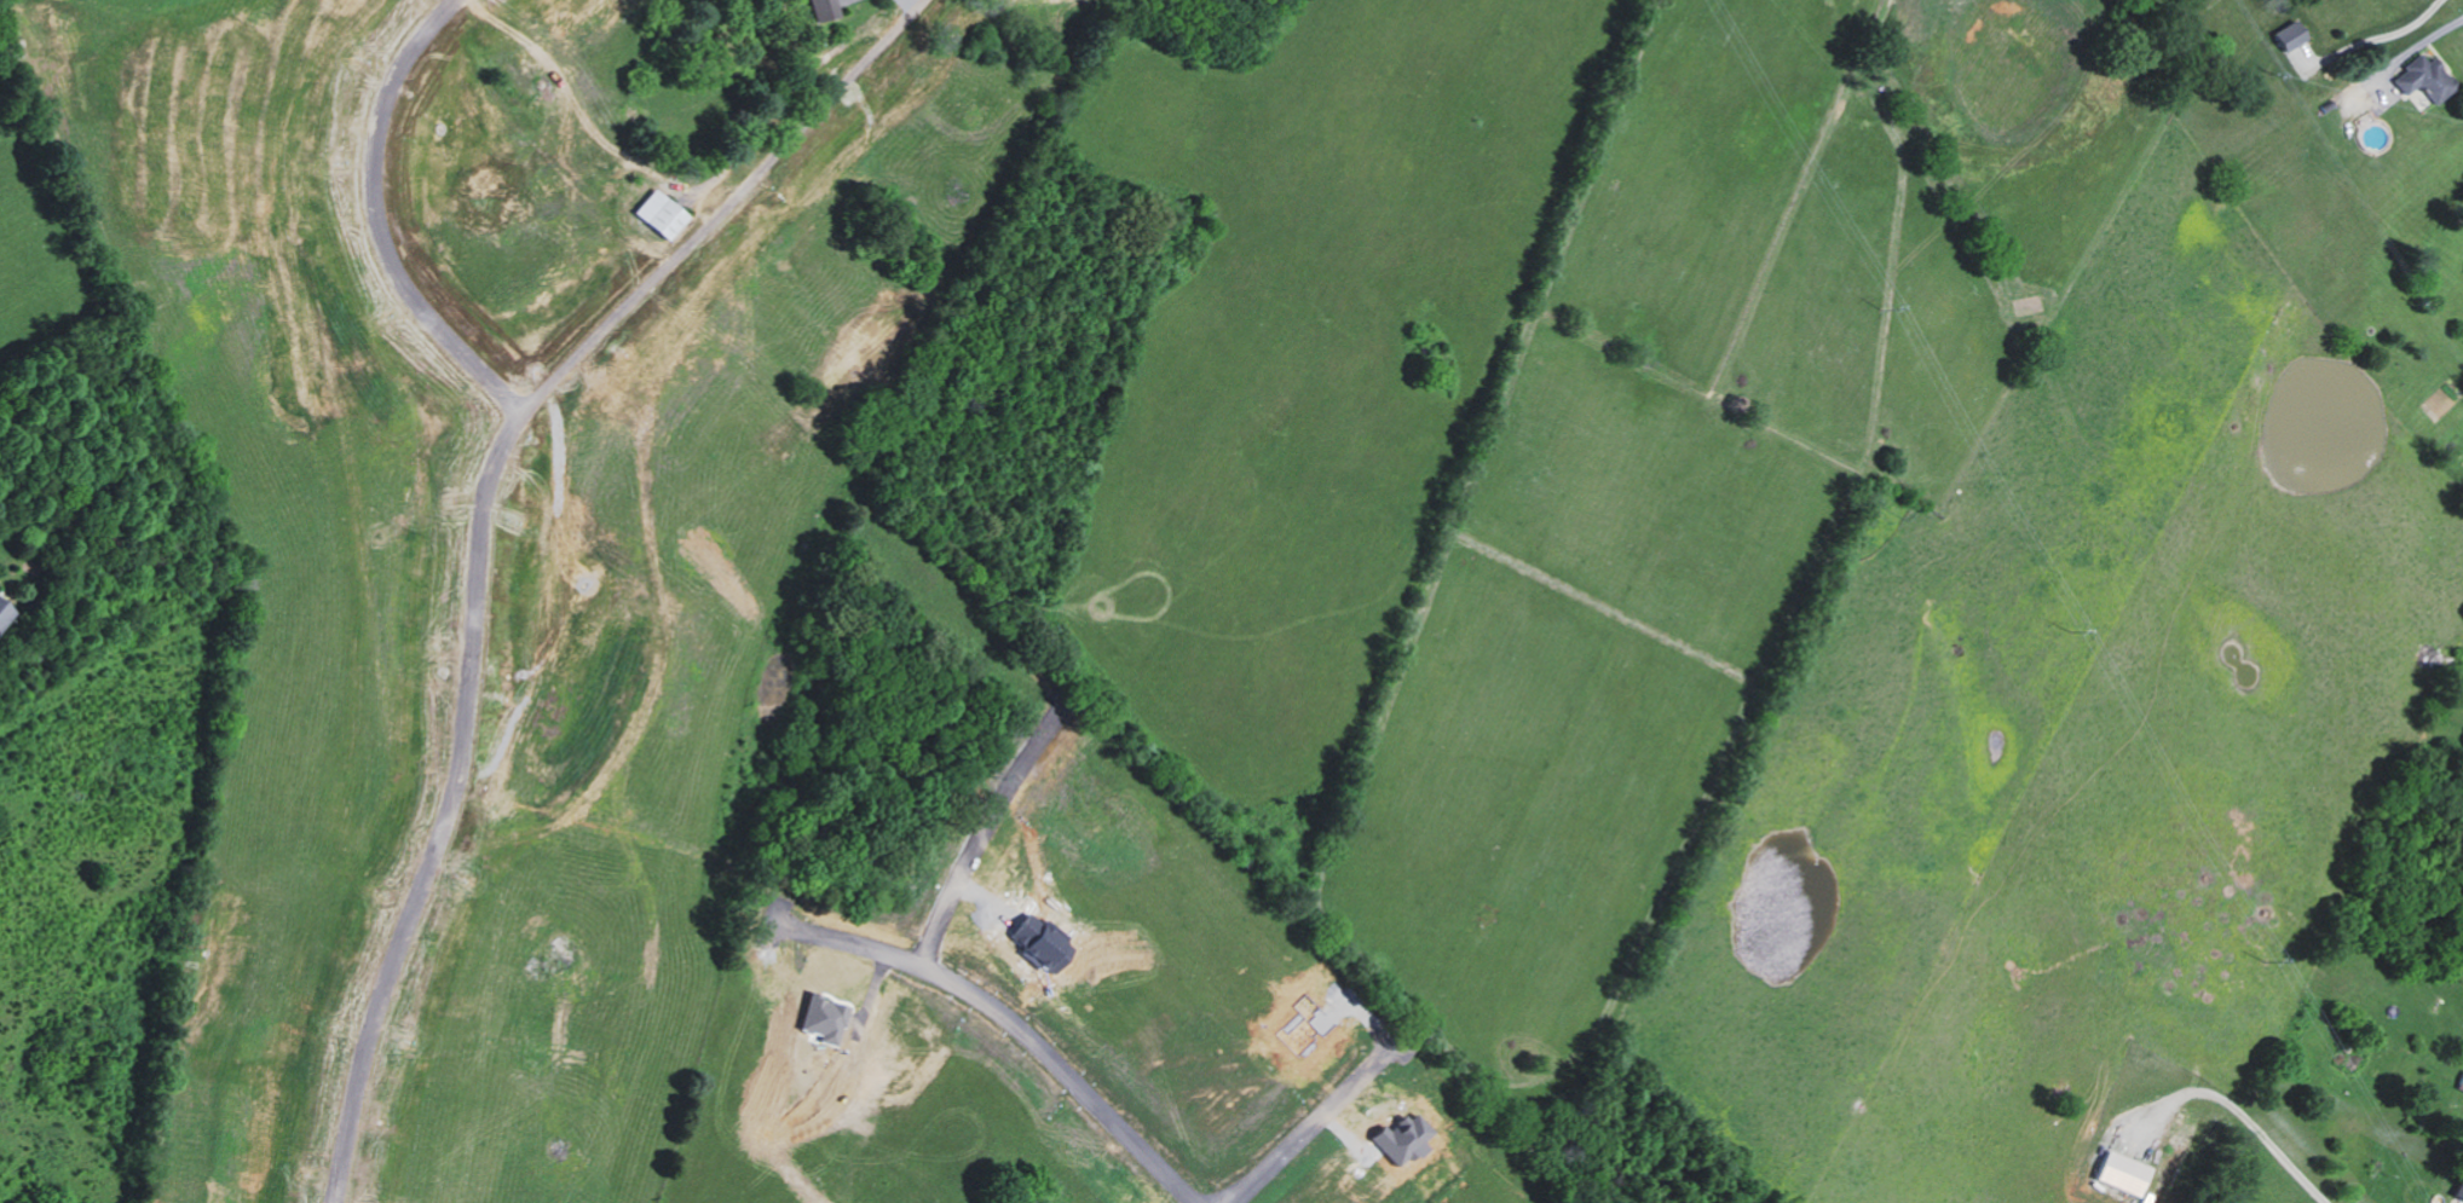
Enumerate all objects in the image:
building: (825, 8)
building: (2292, 34)
building: (2425, 77)
building: (661, 213)
road: (555, 374)
building: (5, 609)
building: (827, 1018)
road: (1051, 1052)
road: (2238, 1107)
road: (1304, 1127)
building: (2125, 1170)

